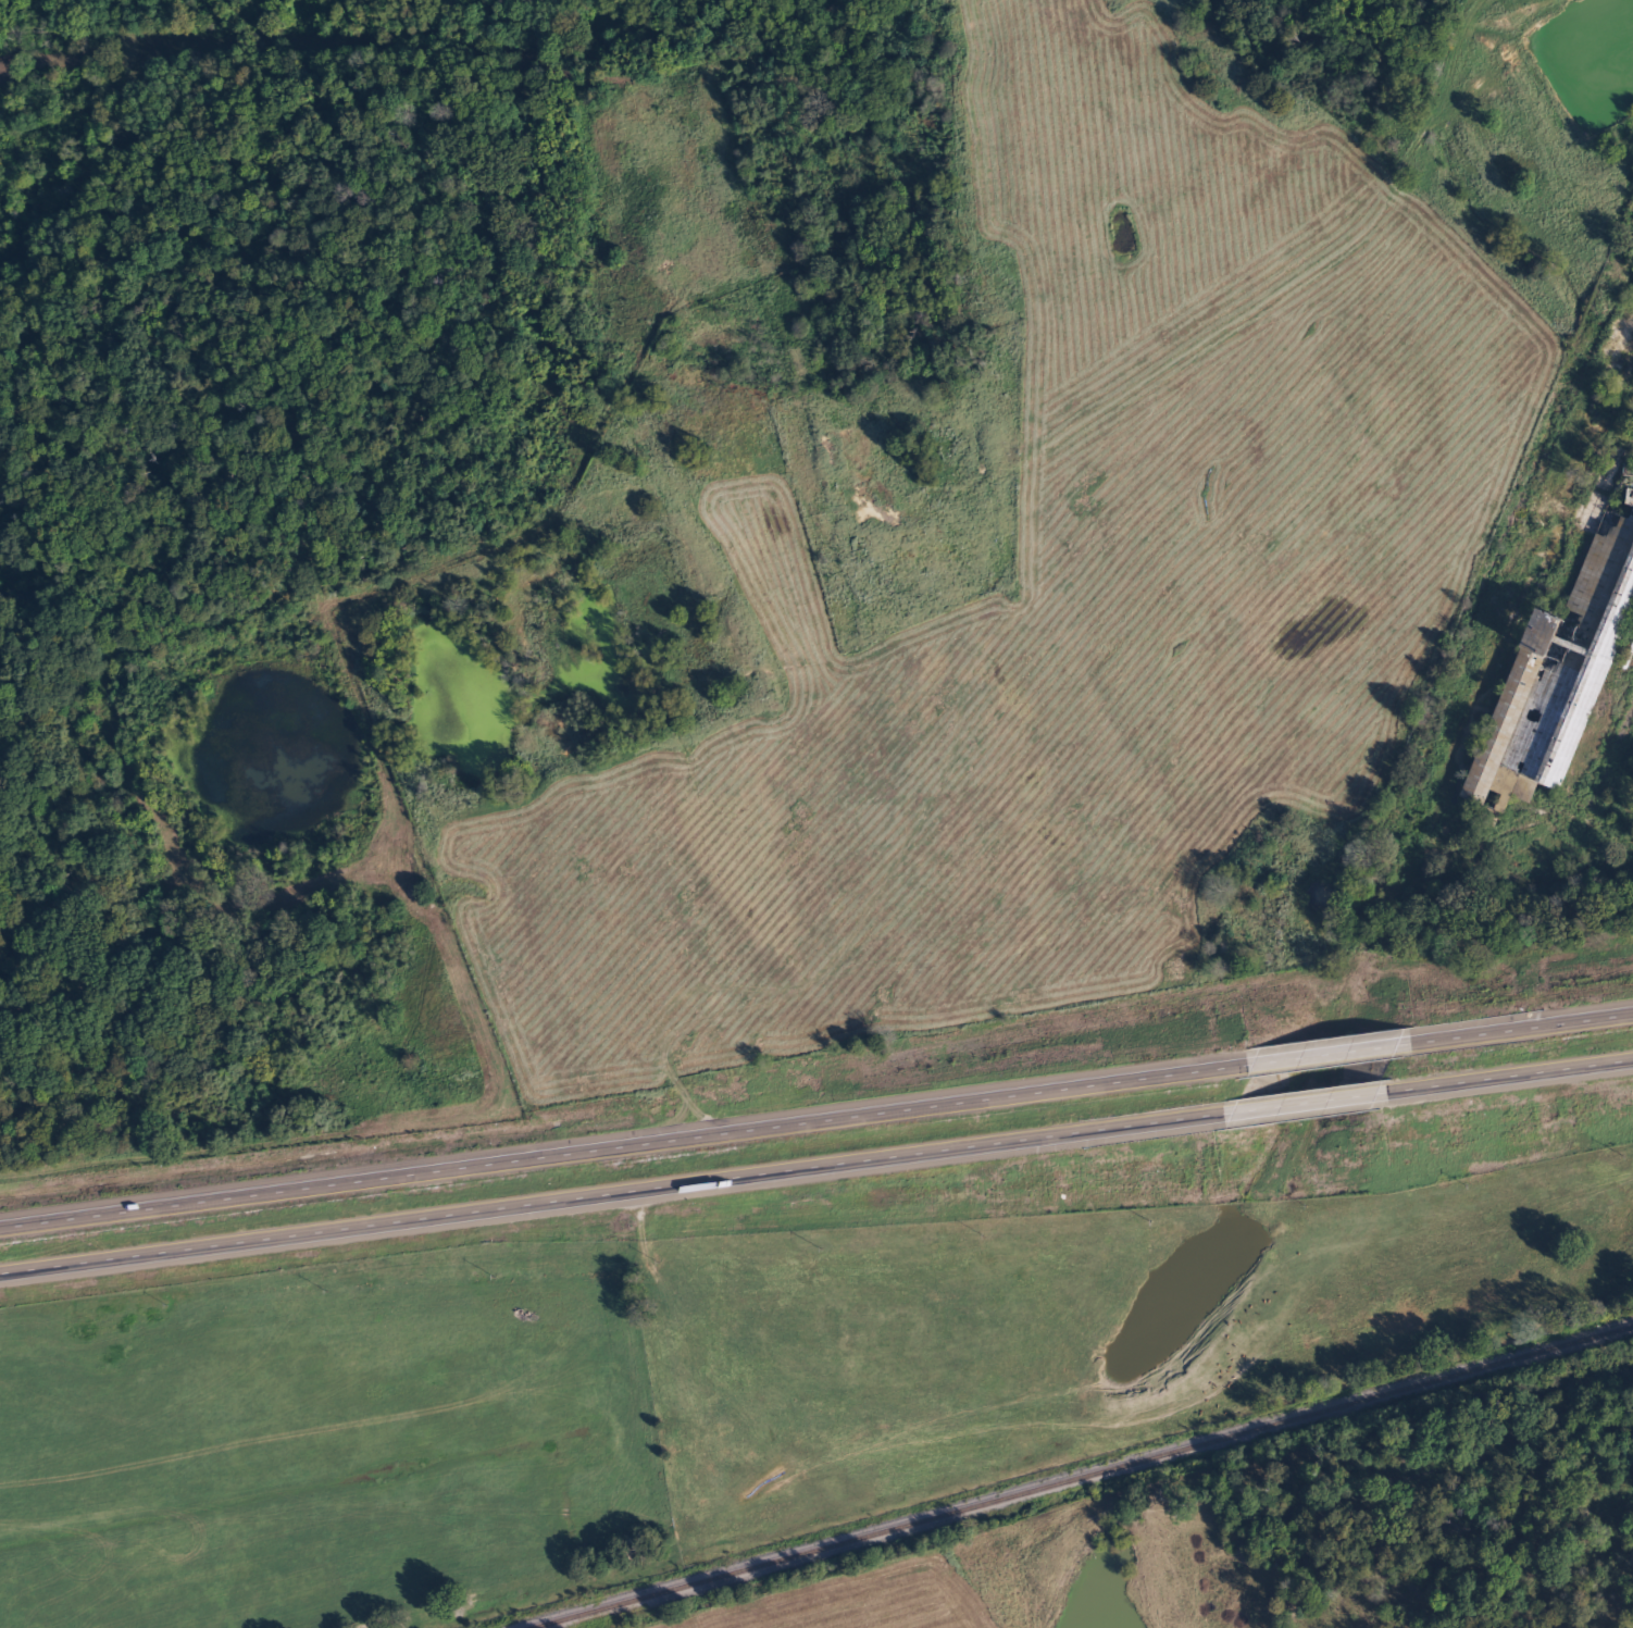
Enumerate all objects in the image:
building: (1561, 667)
road: (816, 1111)
road: (816, 1161)
railway: (1079, 1477)

